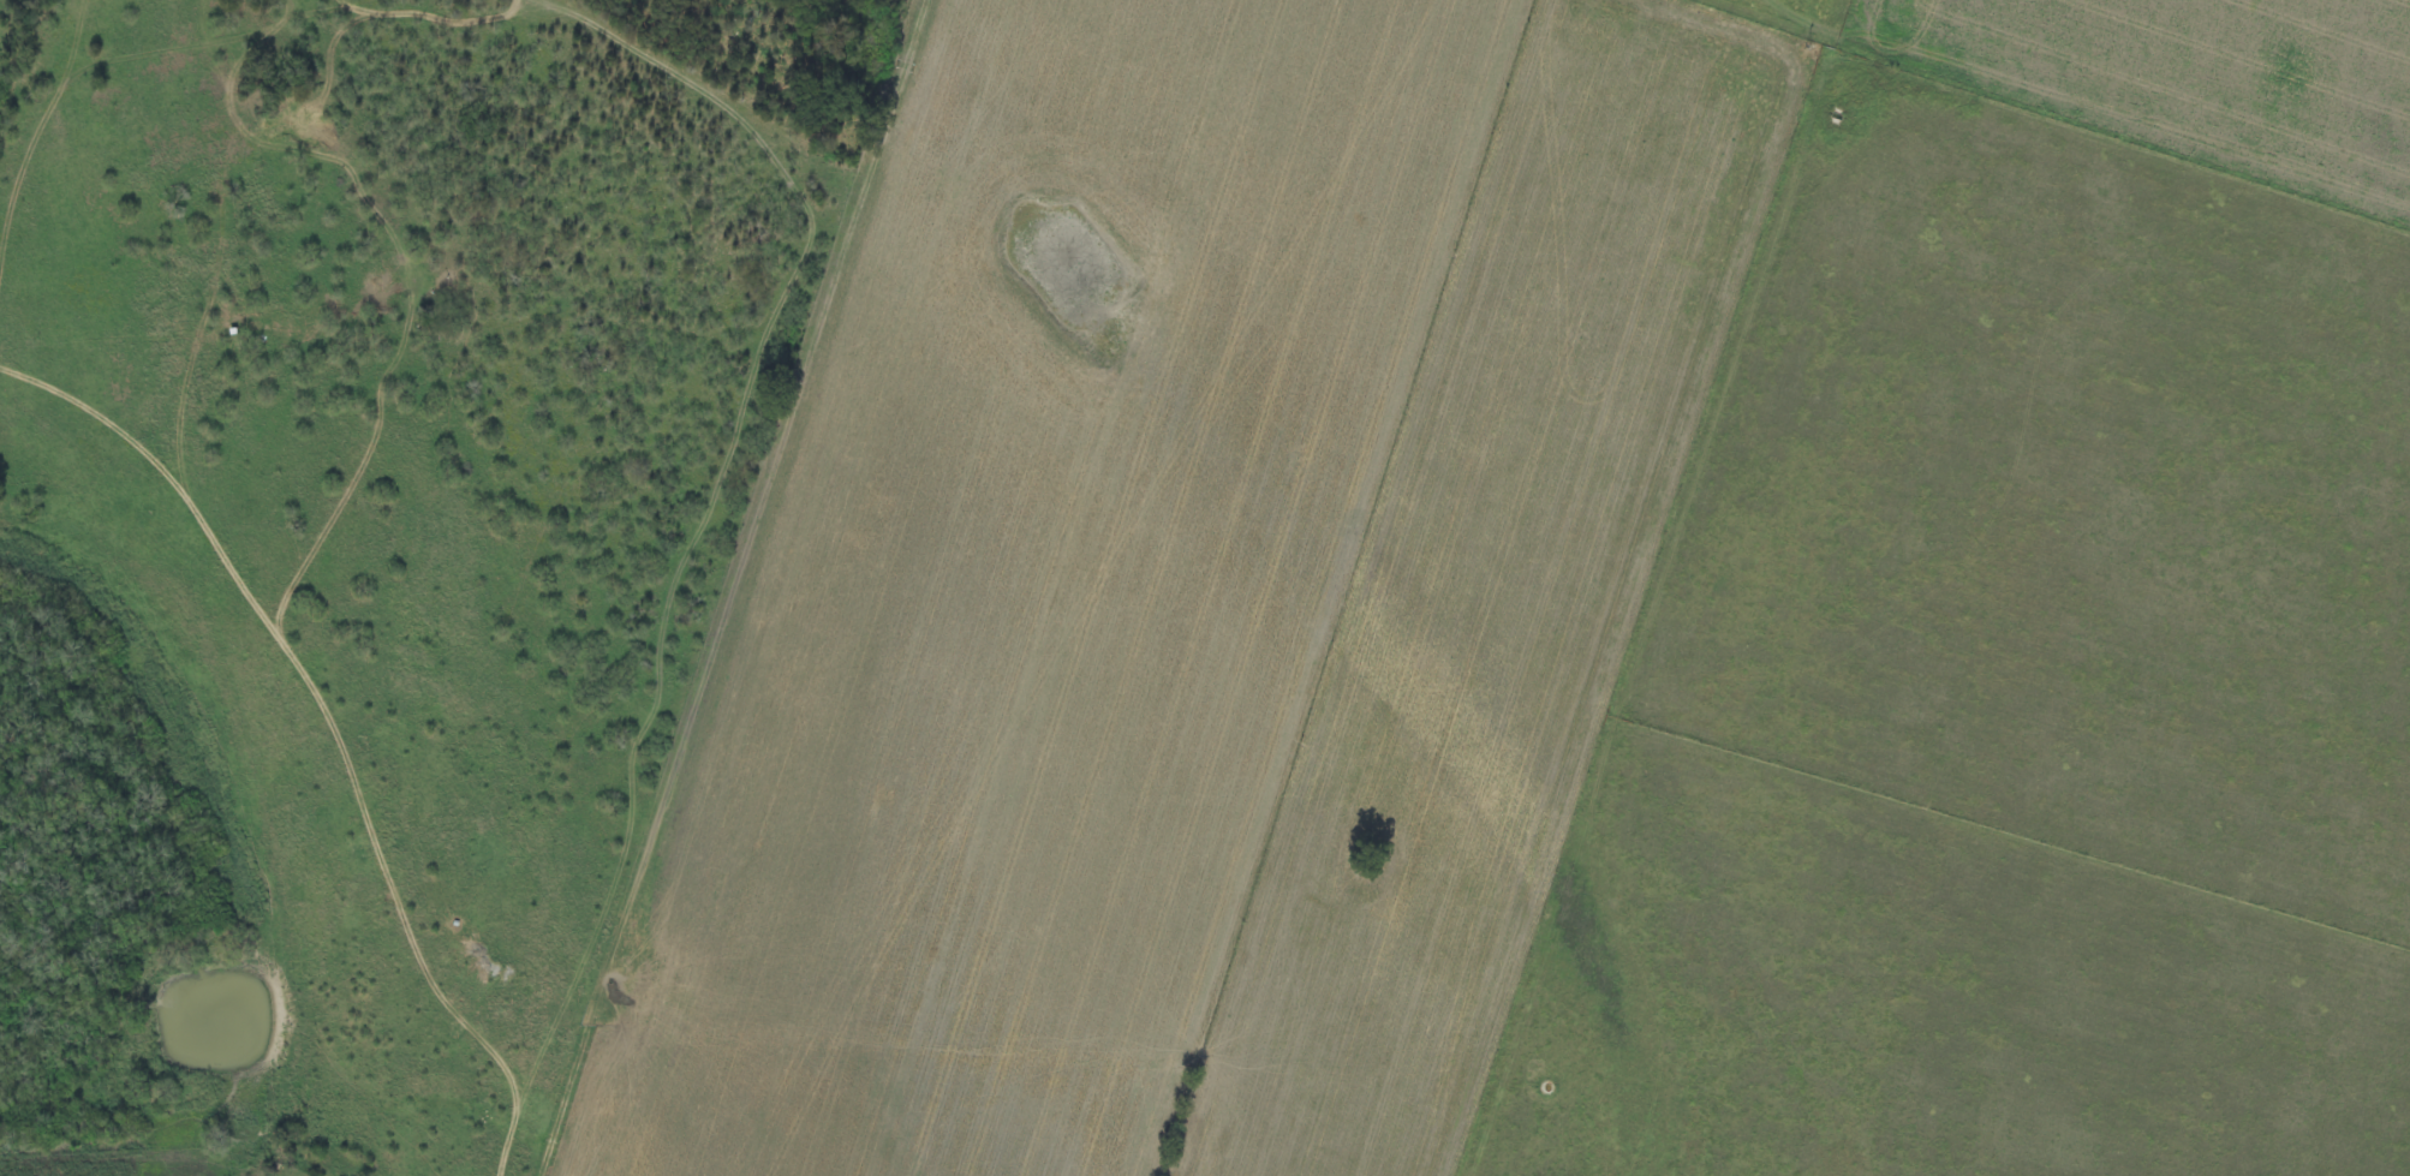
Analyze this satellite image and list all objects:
road: (1609, 649)
road: (557, 1172)

